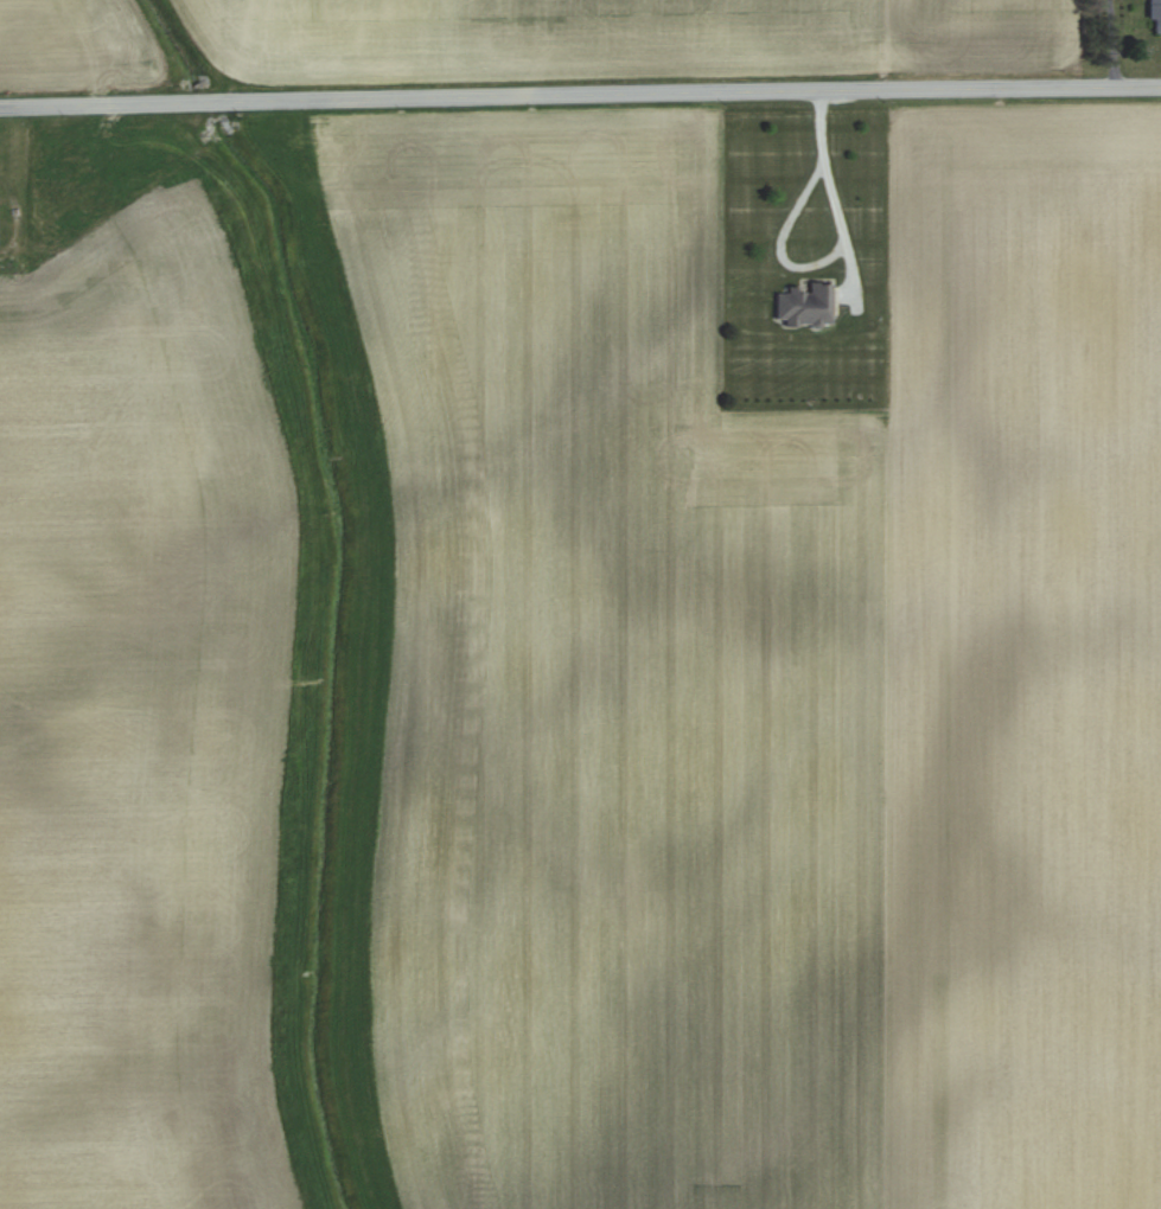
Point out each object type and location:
building: (1153, 15)
road: (580, 94)
road: (835, 250)
building: (800, 303)

